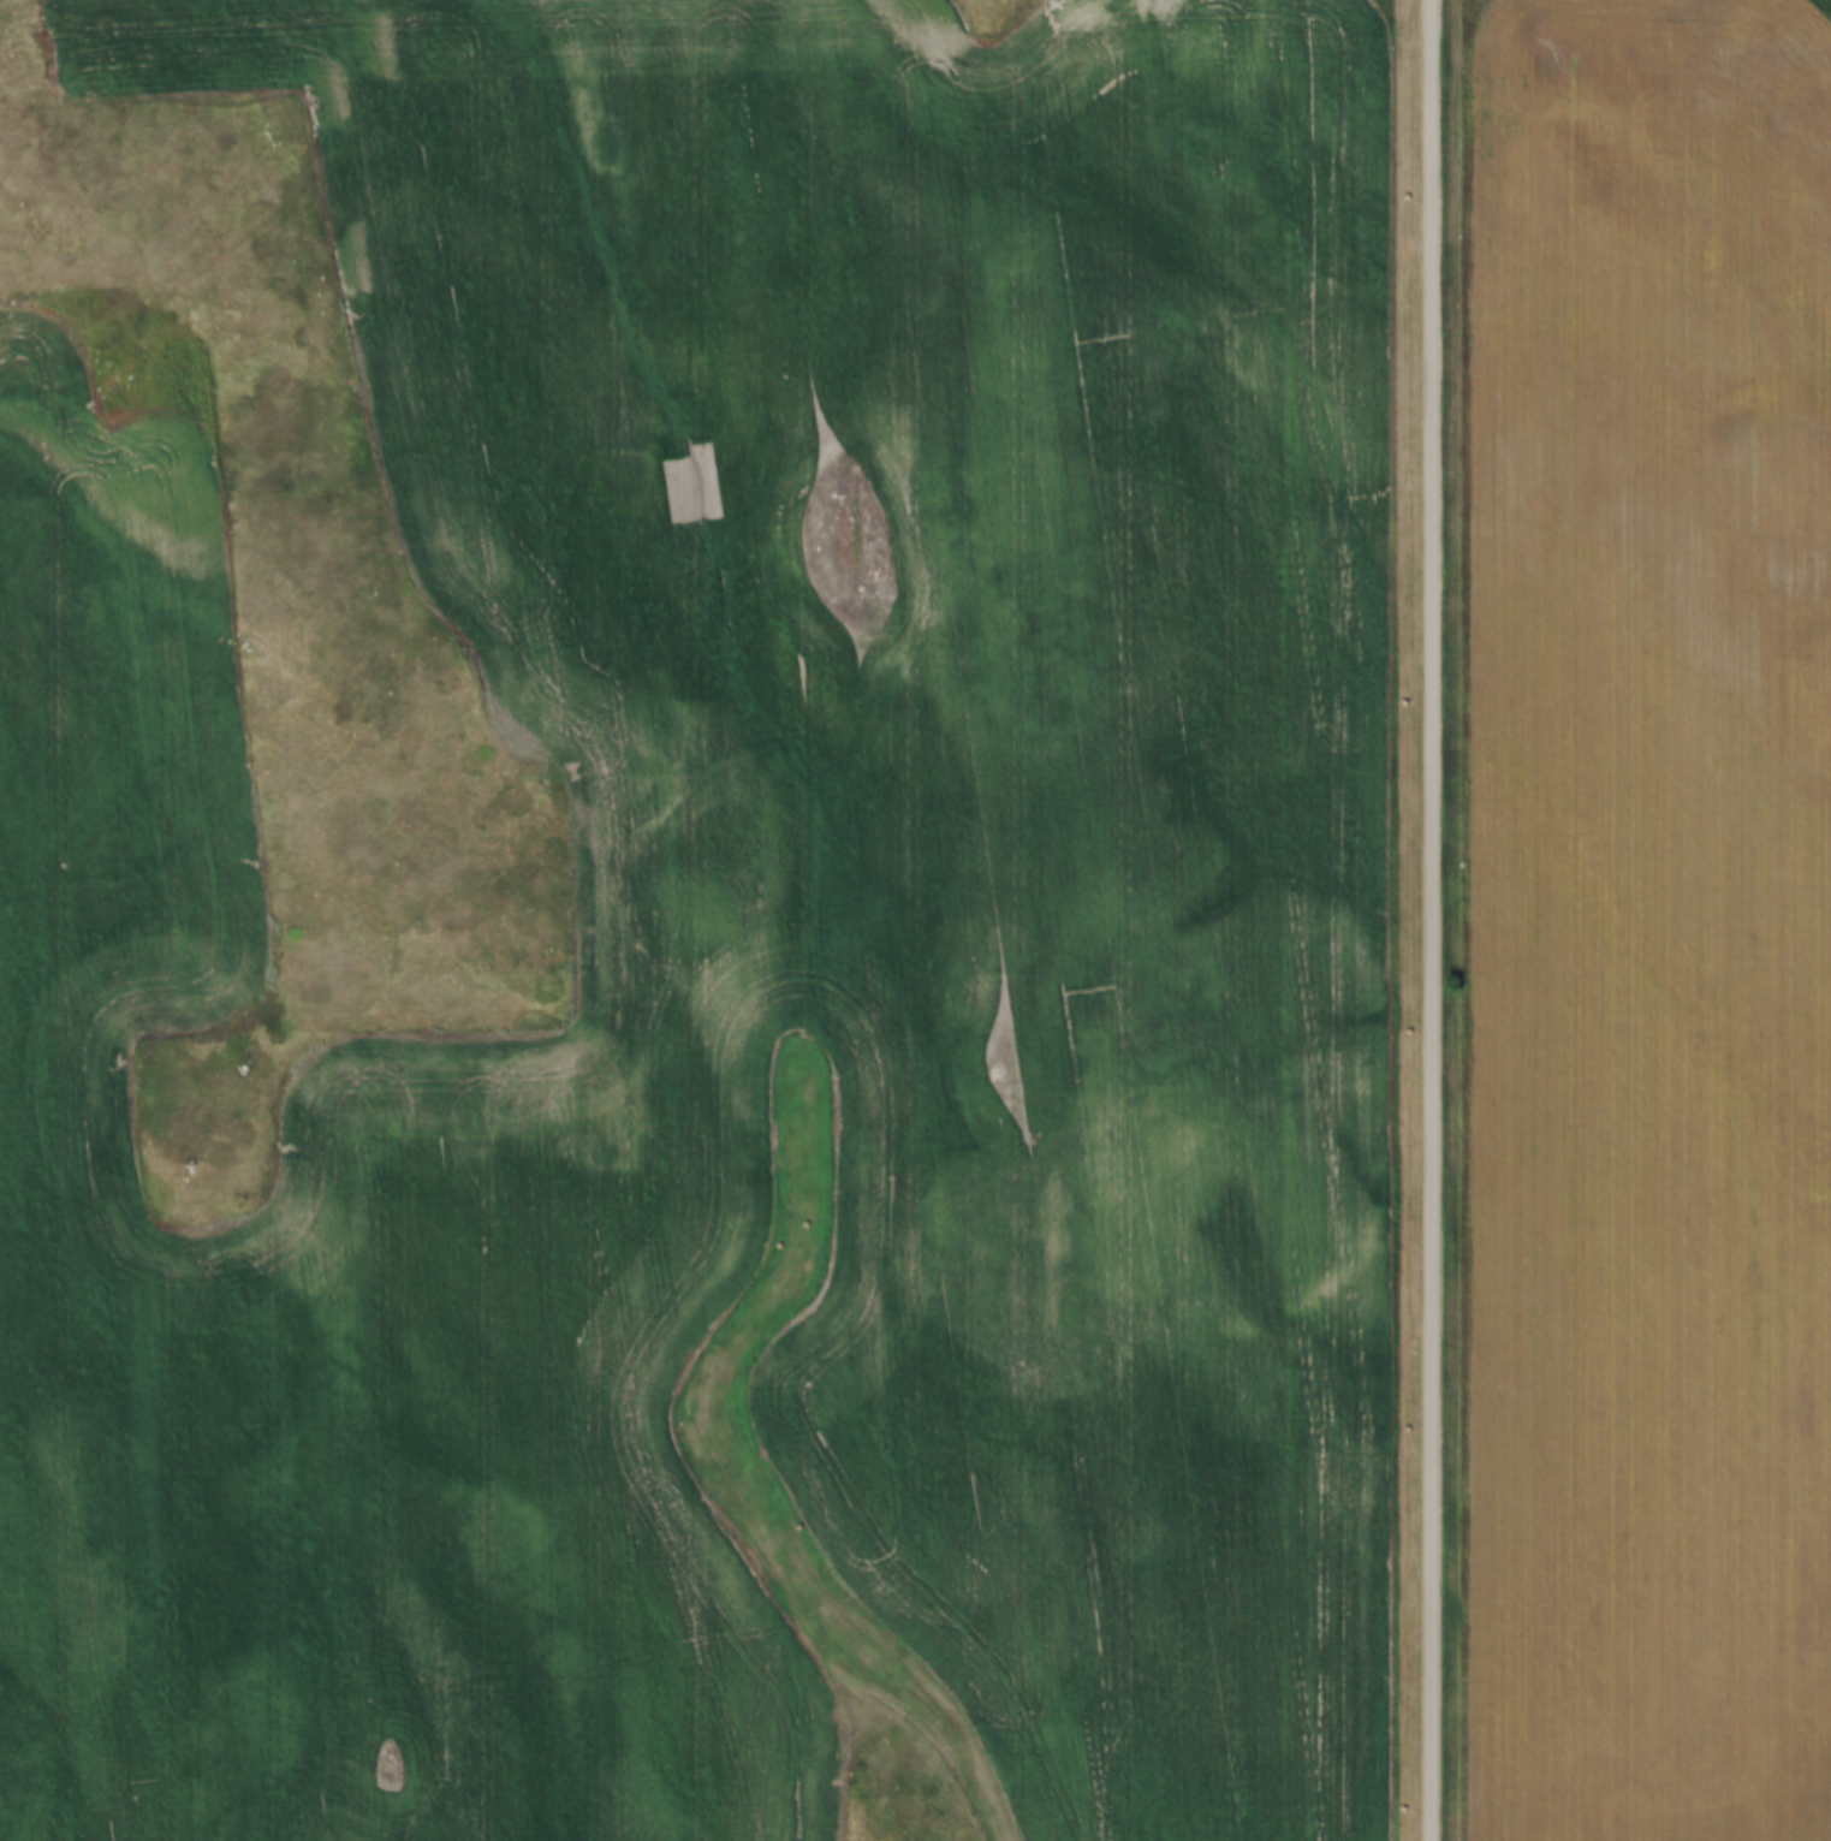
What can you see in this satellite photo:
road: (1439, 920)

